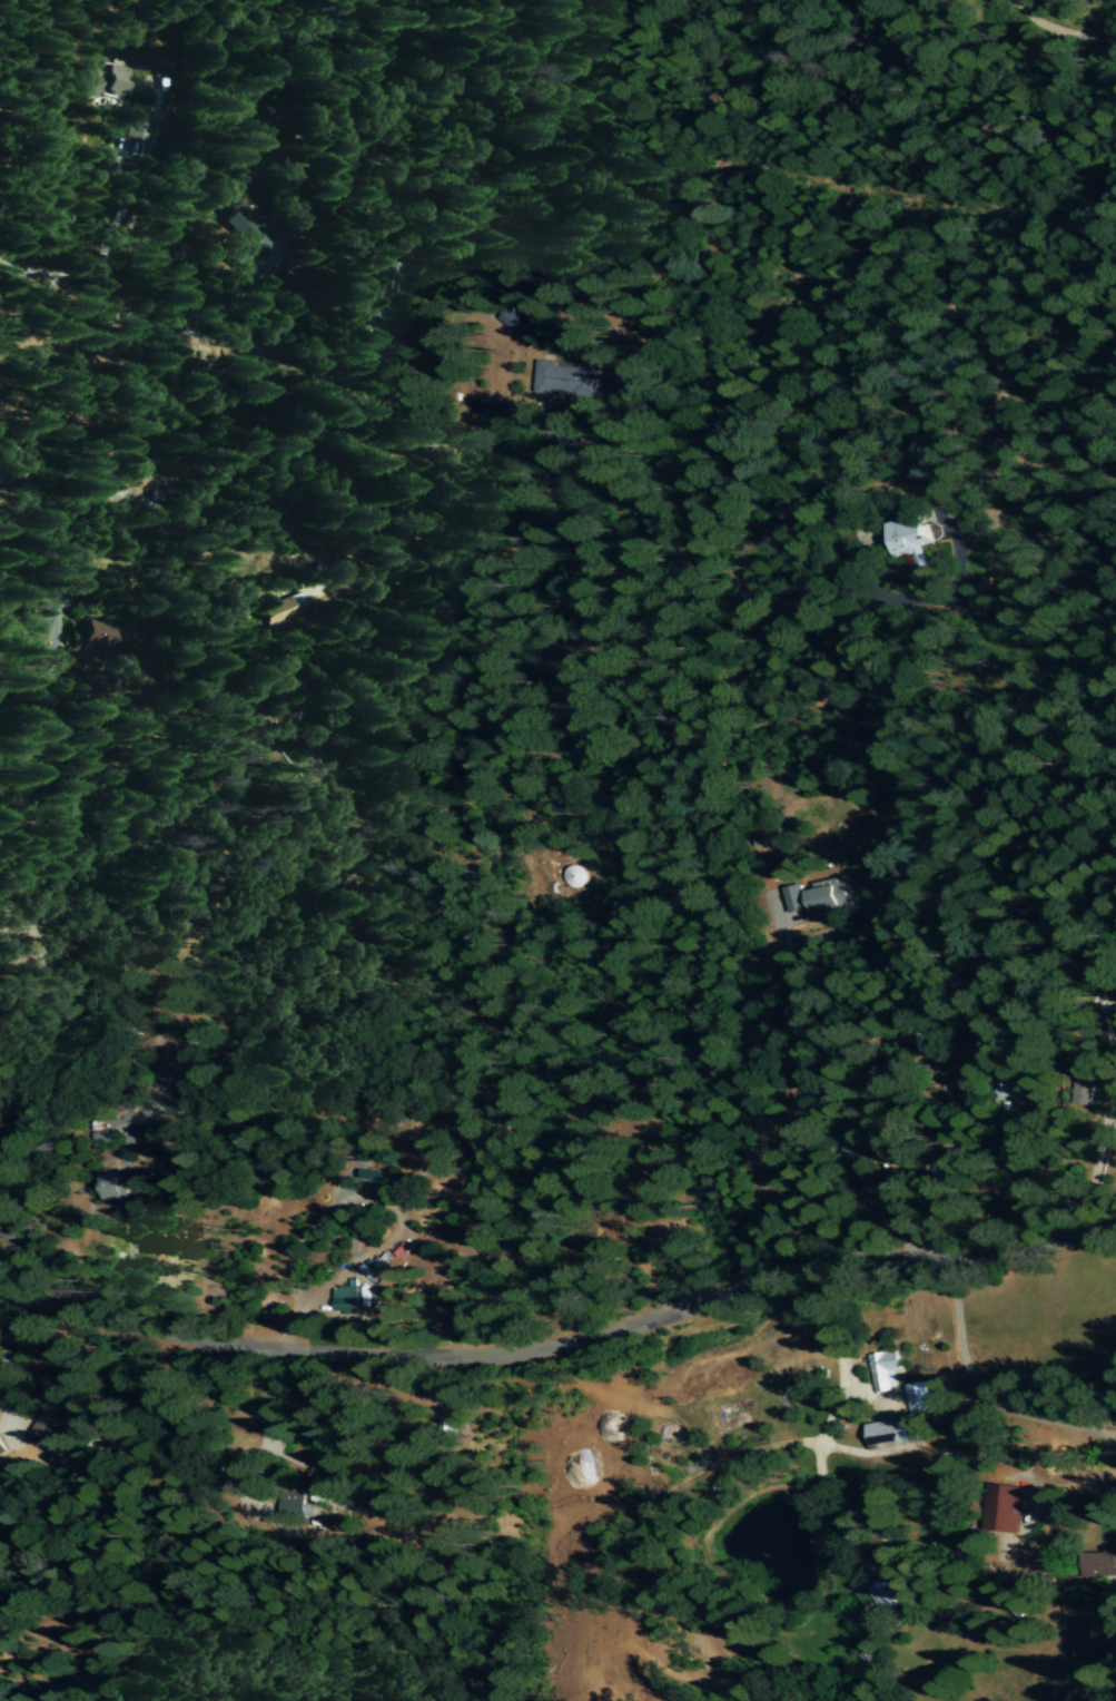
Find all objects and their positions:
road: (1060, 28)
building: (115, 83)
building: (137, 126)
building: (251, 234)
building: (381, 291)
building: (566, 378)
building: (614, 382)
road: (364, 444)
building: (157, 496)
building: (911, 539)
building: (277, 612)
building: (96, 637)
building: (77, 663)
building: (823, 898)
building: (969, 1082)
building: (1015, 1089)
road: (799, 1101)
building: (860, 1134)
building: (115, 1187)
building: (873, 1190)
building: (345, 1297)
road: (561, 1344)
building: (882, 1370)
road: (2, 1392)
road: (978, 1392)
building: (916, 1398)
road: (826, 1422)
road: (266, 1428)
building: (446, 1433)
building: (889, 1433)
building: (45, 1437)
building: (1, 1449)
building: (327, 1484)
building: (292, 1508)
building: (1004, 1508)
building: (1100, 1564)
building: (889, 1593)

